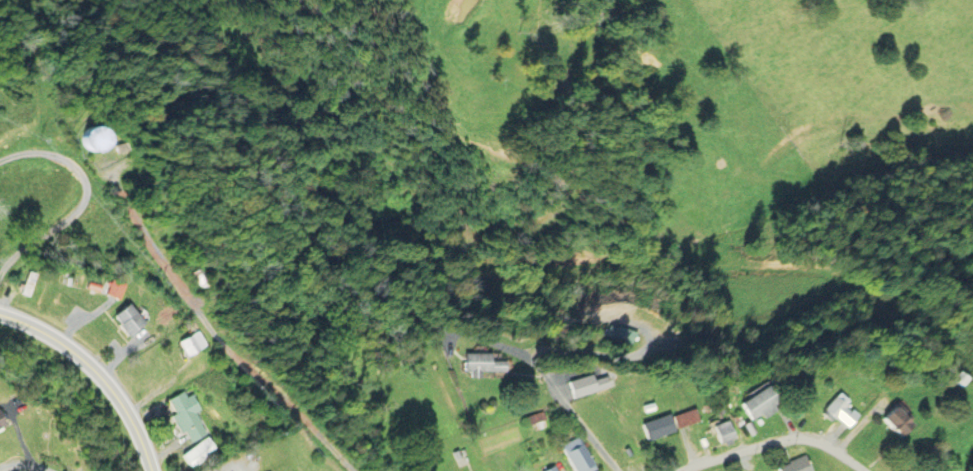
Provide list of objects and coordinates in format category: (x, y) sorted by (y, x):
building: (93, 136)
road: (79, 200)
building: (194, 277)
building: (114, 288)
building: (126, 319)
road: (213, 339)
building: (190, 343)
building: (483, 363)
road: (94, 376)
building: (959, 378)
road: (548, 382)
building: (586, 384)
building: (759, 401)
building: (840, 410)
building: (187, 414)
building: (685, 417)
building: (896, 418)
building: (1, 421)
building: (537, 421)
building: (657, 426)
building: (722, 431)
road: (772, 443)
building: (199, 452)
building: (578, 455)
building: (795, 464)
road: (25, 467)
building: (552, 469)
road: (235, 470)

